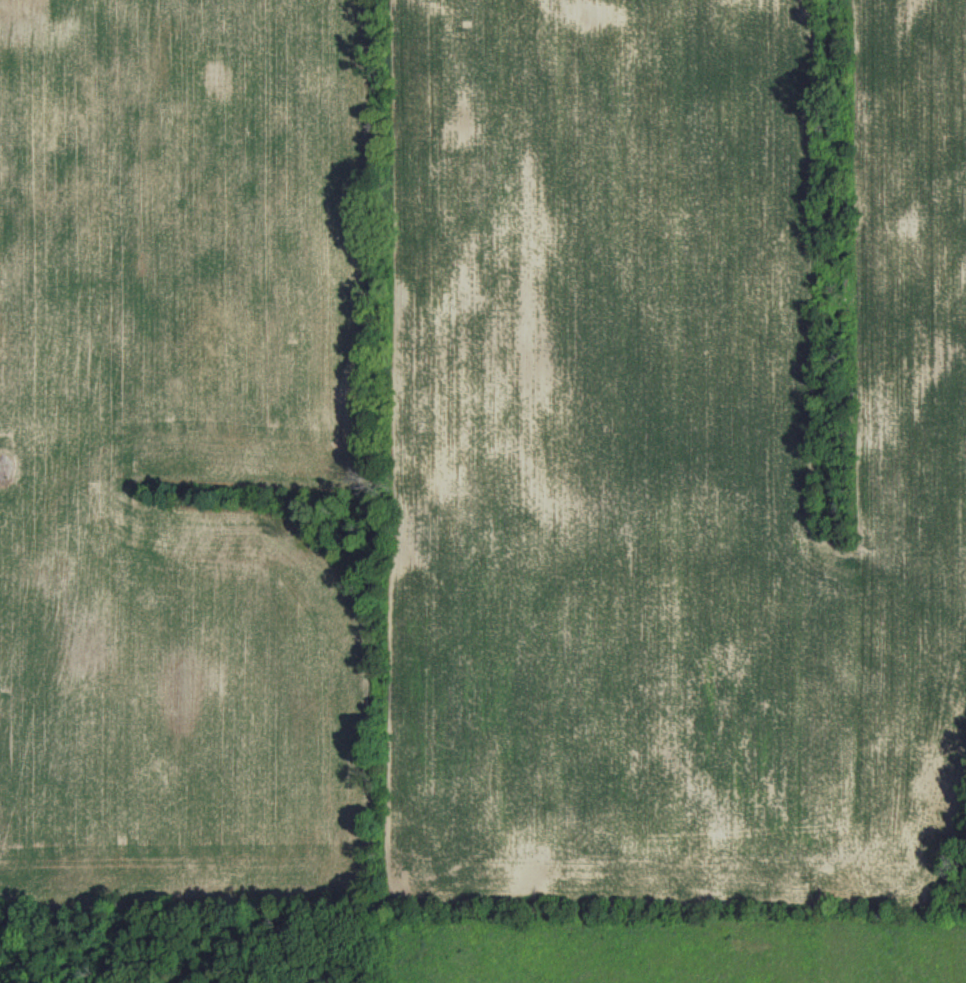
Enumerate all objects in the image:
crop: (172, 440)
crop: (664, 449)

